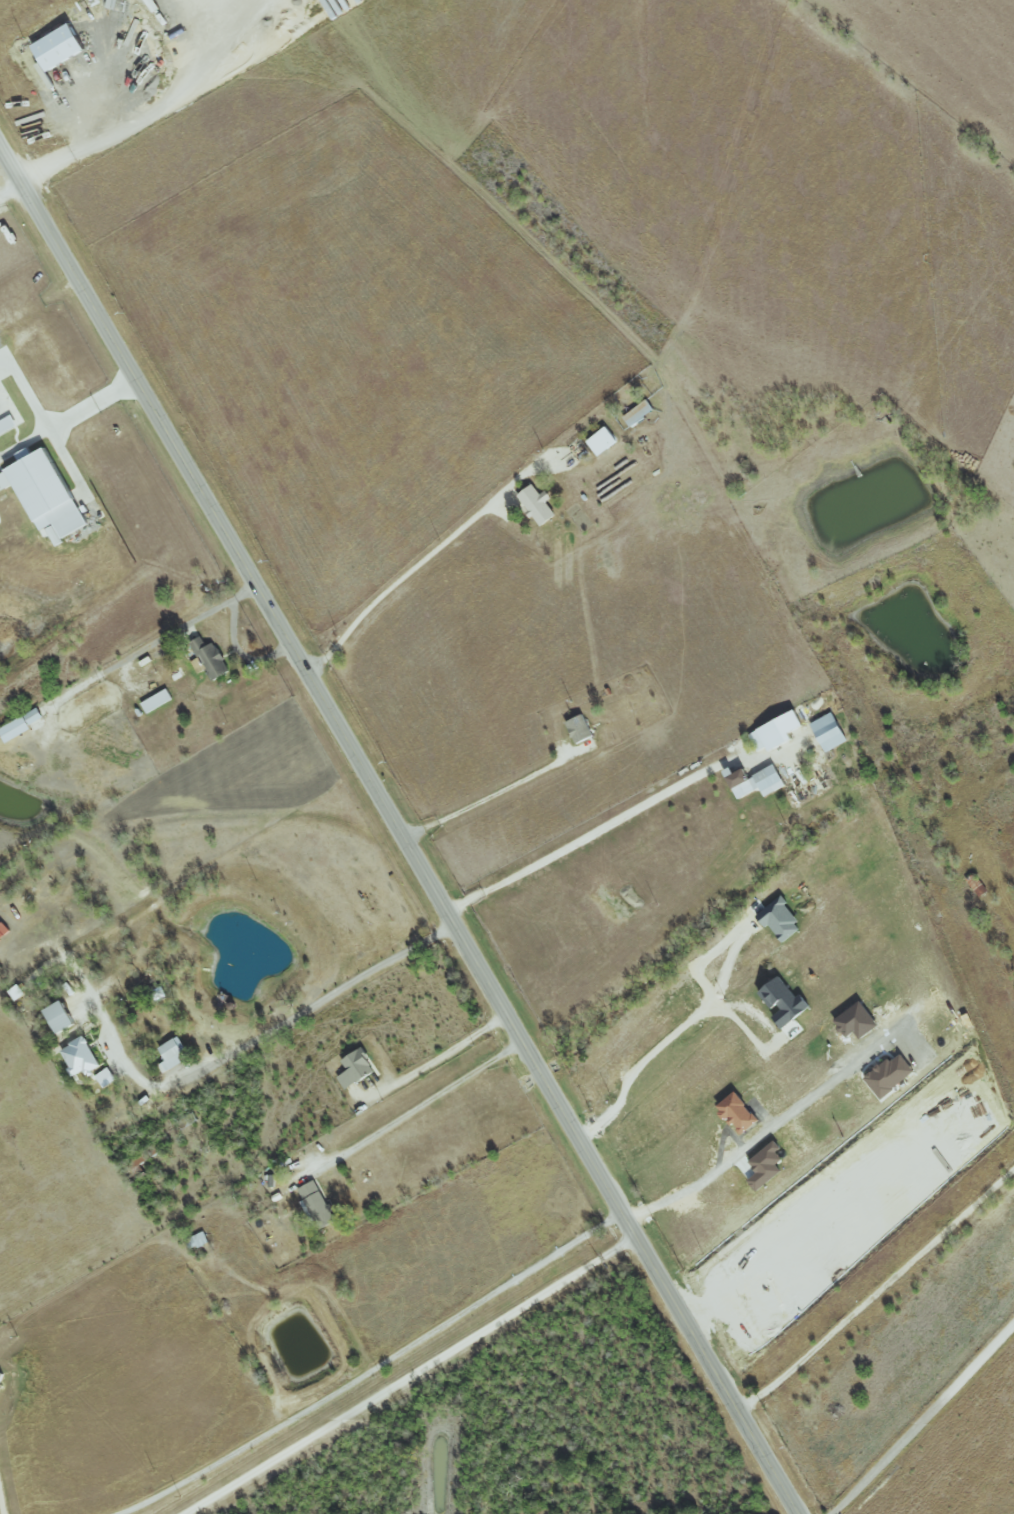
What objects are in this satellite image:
road: (13, 194)
road: (26, 393)
road: (97, 408)
building: (638, 416)
road: (24, 442)
building: (601, 446)
building: (579, 453)
road: (69, 462)
building: (58, 535)
road: (395, 589)
road: (155, 645)
road: (243, 655)
building: (212, 662)
building: (157, 703)
building: (578, 728)
building: (775, 731)
building: (828, 731)
building: (755, 781)
road: (487, 801)
road: (400, 826)
road: (596, 833)
building: (780, 919)
building: (783, 1004)
building: (59, 1022)
road: (262, 1035)
road: (670, 1037)
road: (443, 1055)
building: (173, 1057)
building: (79, 1061)
building: (356, 1071)
building: (106, 1081)
road: (432, 1096)
building: (737, 1113)
road: (755, 1137)
building: (317, 1207)
road: (878, 1290)
road: (373, 1367)
road: (415, 1375)
road: (925, 1417)

